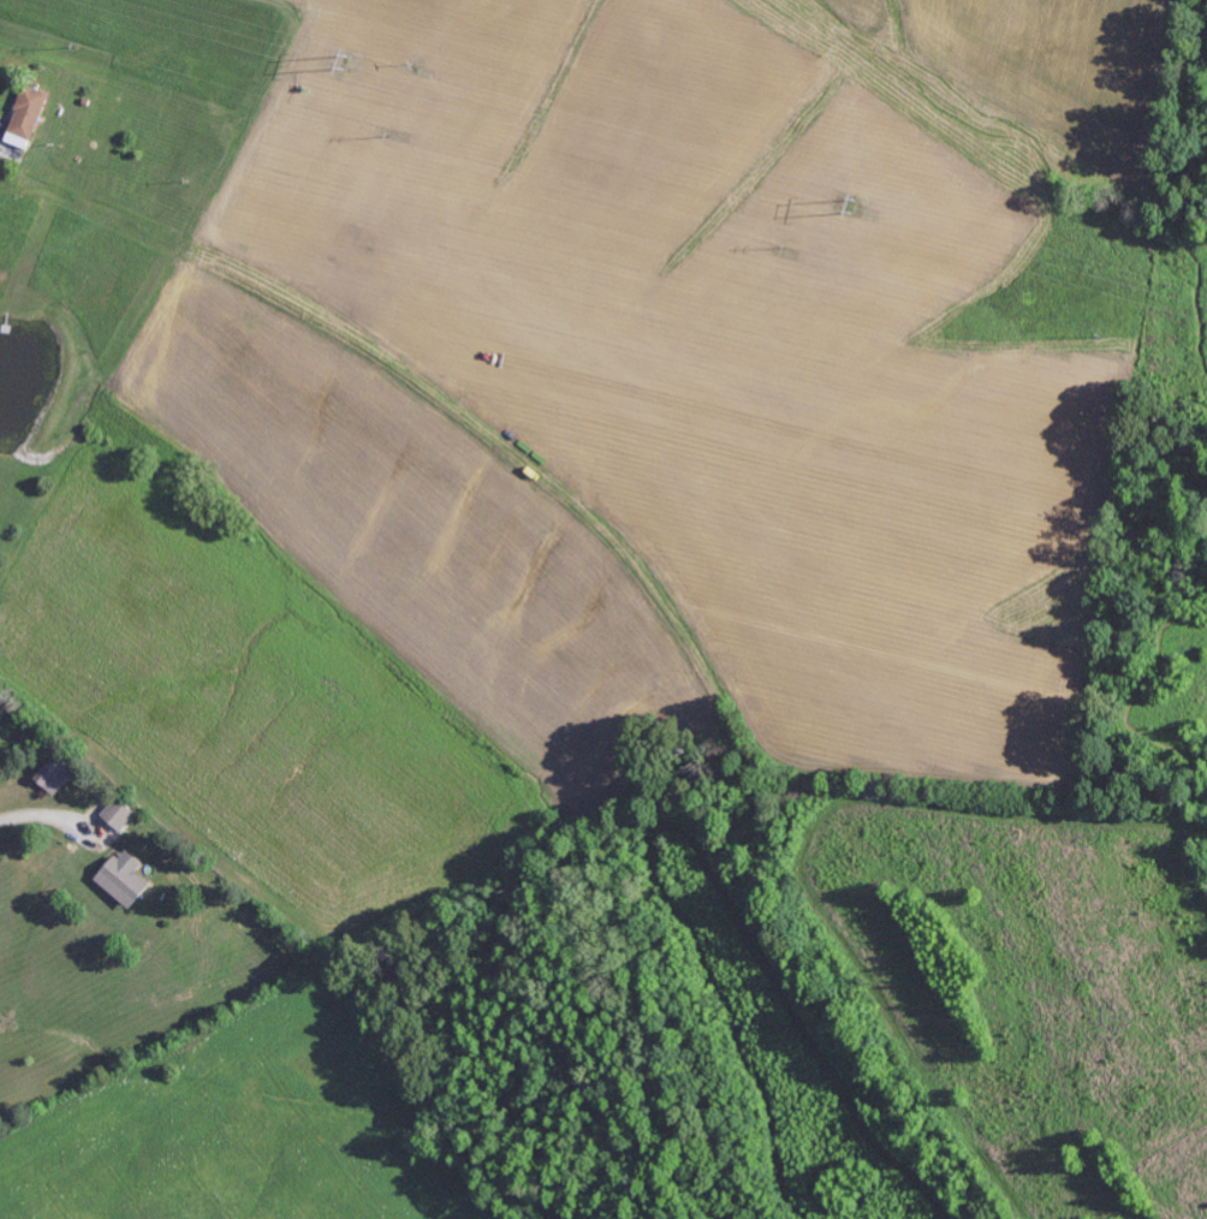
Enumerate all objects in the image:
power tower: (347, 60)
building: (30, 118)
power tower: (856, 203)
building: (59, 775)
building: (123, 814)
building: (129, 879)

